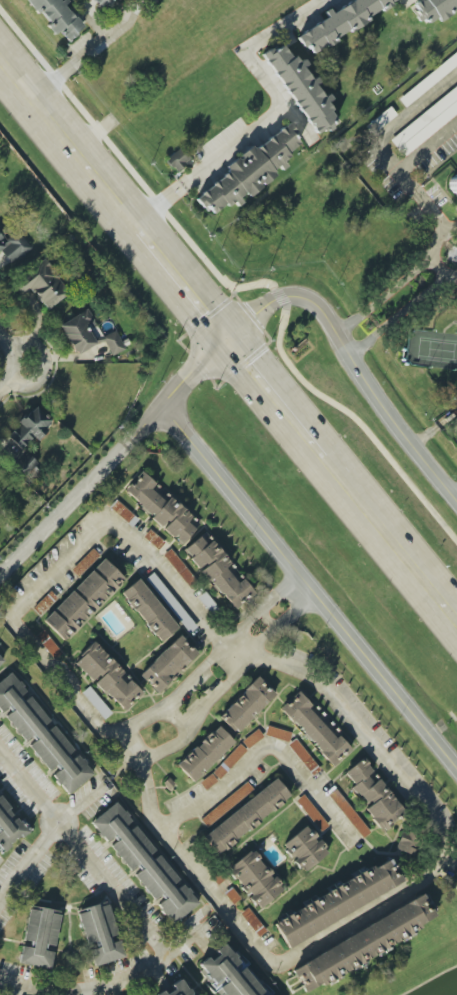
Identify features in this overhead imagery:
building: (119, 0)
building: (104, 3)
building: (433, 9)
building: (57, 16)
road: (90, 18)
building: (340, 23)
road: (85, 50)
building: (428, 80)
building: (300, 87)
road: (271, 115)
building: (426, 123)
road: (66, 144)
road: (427, 146)
building: (178, 159)
road: (389, 160)
building: (250, 170)
building: (453, 185)
building: (13, 246)
road: (437, 267)
road: (446, 274)
road: (178, 282)
building: (45, 285)
road: (236, 287)
road: (258, 312)
building: (87, 334)
road: (347, 343)
road: (7, 350)
road: (43, 365)
road: (5, 375)
road: (375, 397)
road: (273, 398)
building: (29, 428)
road: (113, 457)
building: (26, 465)
road: (455, 495)
building: (161, 507)
building: (123, 513)
road: (389, 540)
road: (63, 565)
building: (180, 569)
building: (219, 570)
road: (308, 588)
road: (301, 589)
road: (296, 593)
building: (83, 599)
building: (148, 610)
building: (48, 644)
building: (1, 660)
road: (274, 660)
building: (167, 664)
building: (107, 676)
building: (96, 703)
building: (246, 704)
building: (315, 728)
building: (277, 734)
building: (41, 735)
road: (267, 748)
building: (204, 753)
building: (303, 755)
road: (128, 757)
building: (229, 761)
building: (373, 795)
building: (227, 805)
building: (311, 813)
building: (349, 813)
building: (246, 816)
building: (8, 827)
road: (44, 839)
building: (410, 842)
building: (304, 848)
road: (81, 850)
building: (144, 863)
building: (254, 879)
building: (336, 902)
building: (252, 922)
building: (100, 933)
building: (38, 937)
building: (363, 943)
building: (228, 974)
road: (109, 979)
building: (177, 989)
building: (160, 994)

